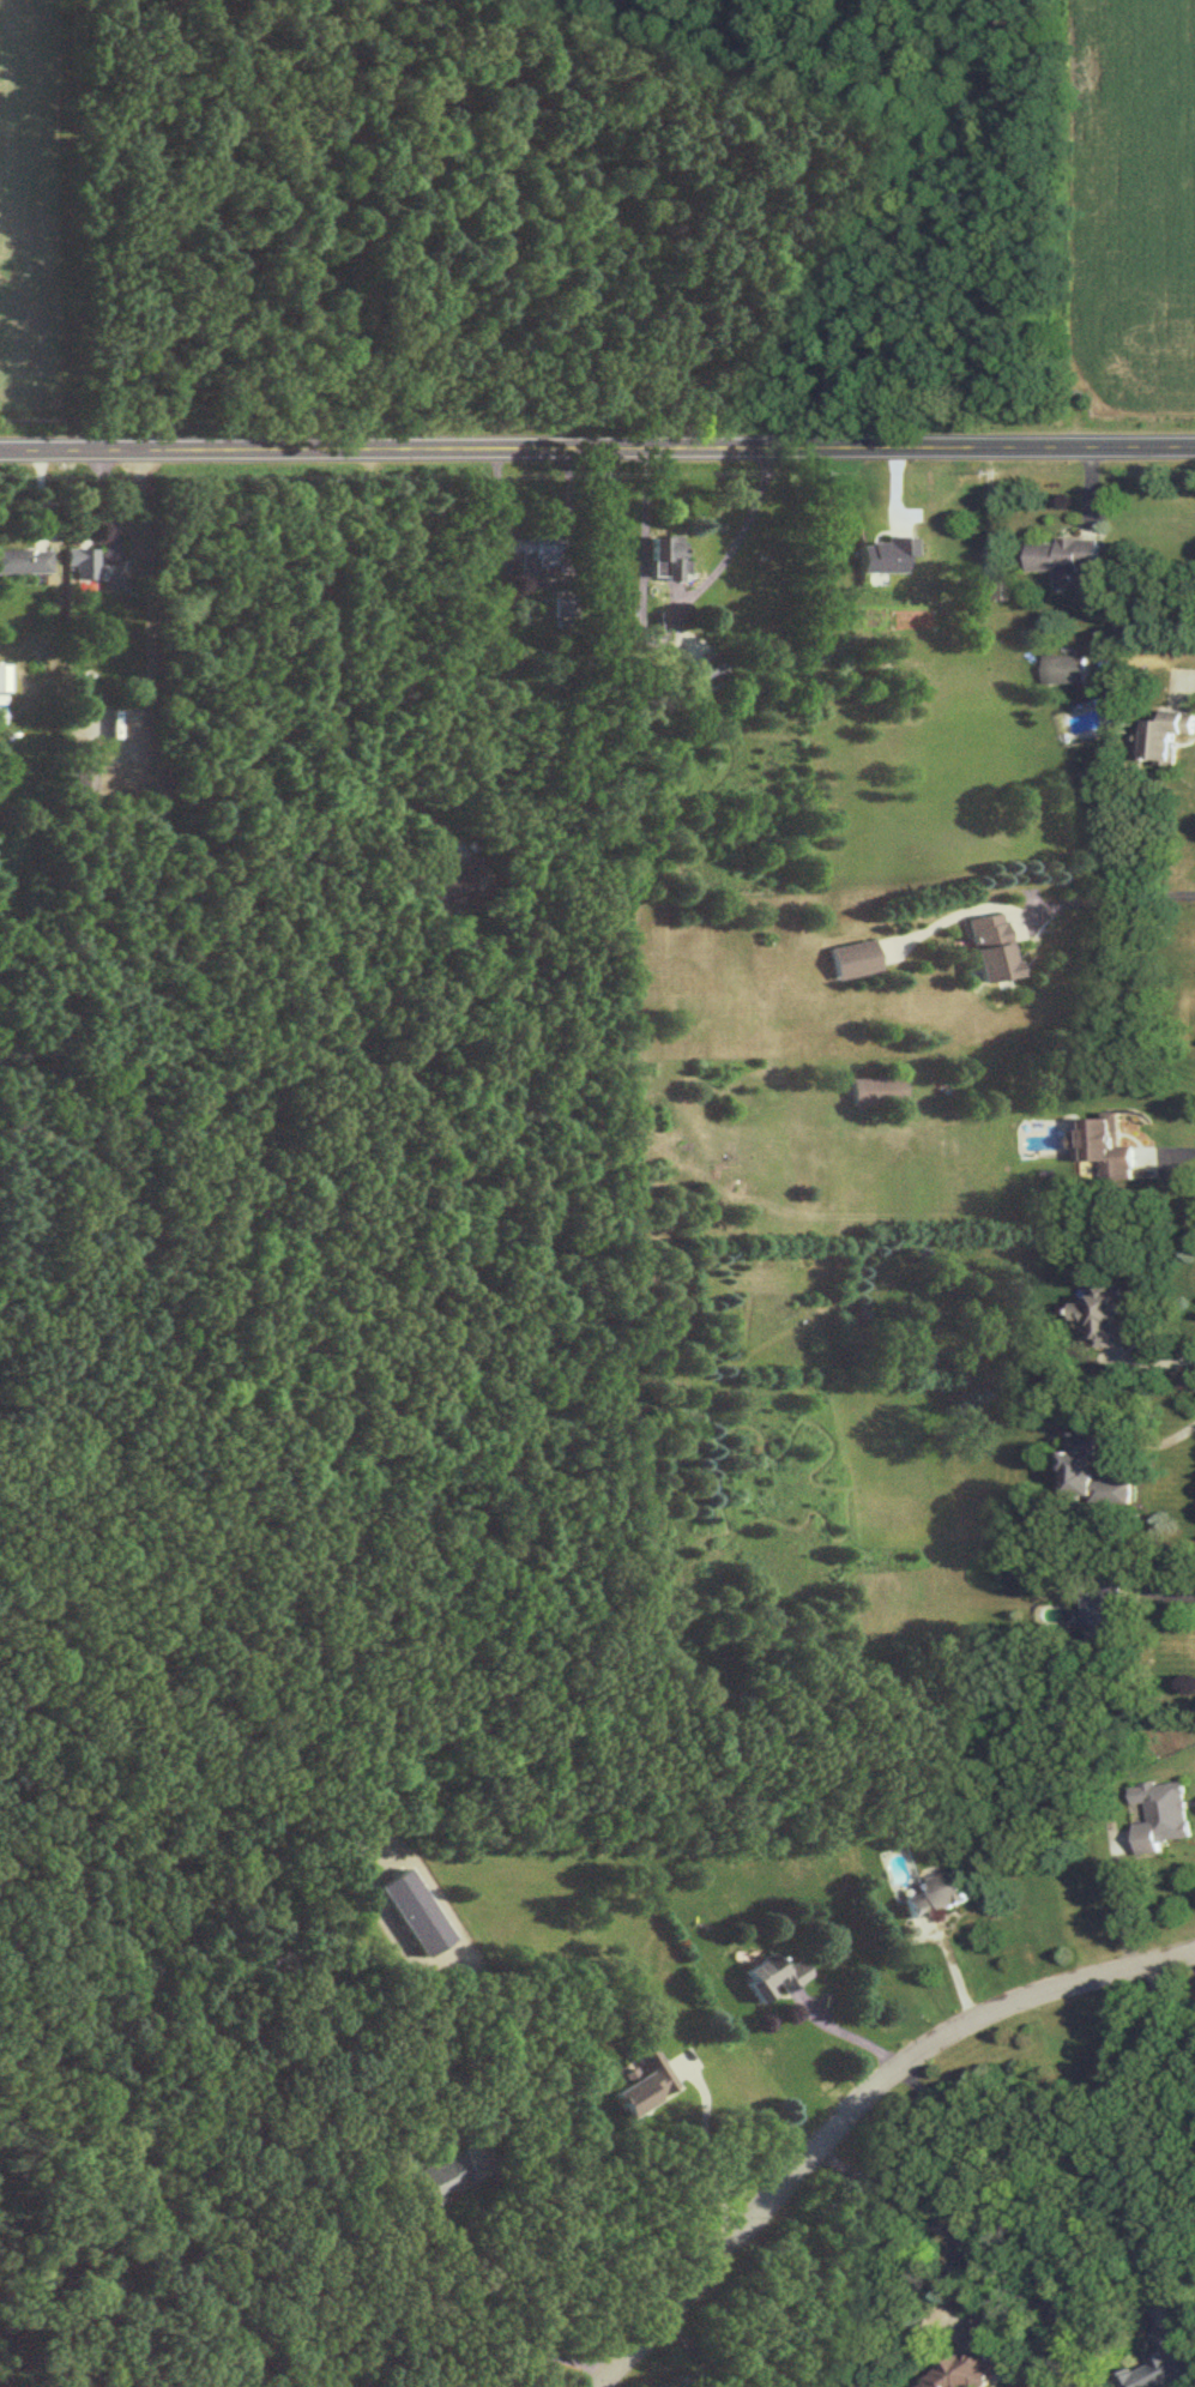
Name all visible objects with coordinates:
road: (597, 447)
building: (530, 549)
building: (886, 553)
building: (665, 554)
building: (1063, 554)
building: (24, 559)
building: (93, 566)
building: (991, 579)
road: (538, 583)
road: (668, 634)
building: (1066, 669)
building: (4, 676)
road: (1190, 676)
building: (1, 707)
building: (1167, 733)
building: (83, 776)
building: (457, 884)
road: (1111, 897)
building: (988, 946)
building: (852, 958)
building: (1108, 1145)
road: (1167, 1151)
building: (1102, 1312)
road: (1154, 1362)
road: (1160, 1442)
building: (1090, 1471)
road: (1163, 1592)
building: (1103, 1614)
building: (1160, 1813)
building: (937, 1892)
building: (416, 1911)
road: (1194, 1953)
building: (773, 1975)
road: (846, 2030)
road: (1165, 2030)
building: (645, 2080)
road: (853, 2103)
road: (707, 2154)
road: (501, 2158)
road: (1025, 2166)
building: (448, 2174)
road: (928, 2217)
road: (743, 2345)
road: (695, 2349)
building: (971, 2357)
building: (1163, 2361)

